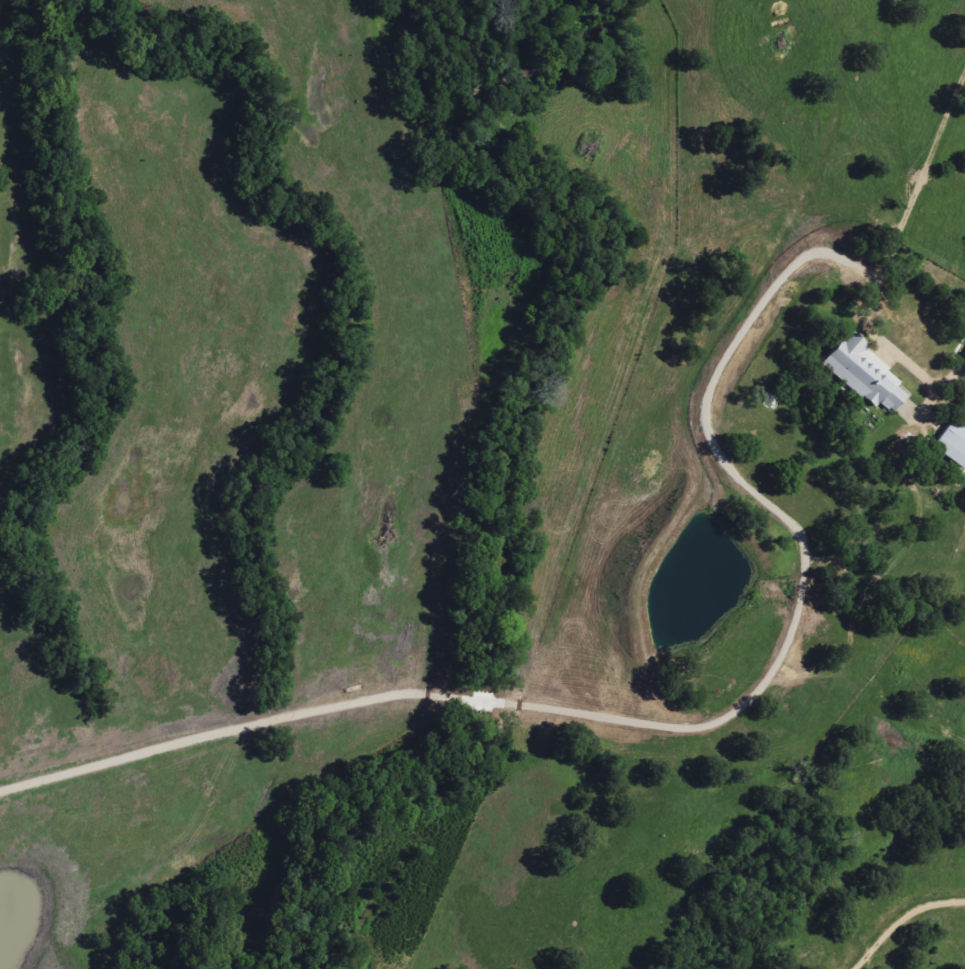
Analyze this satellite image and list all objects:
road: (927, 156)
building: (964, 354)
building: (861, 373)
building: (952, 444)
road: (898, 916)

